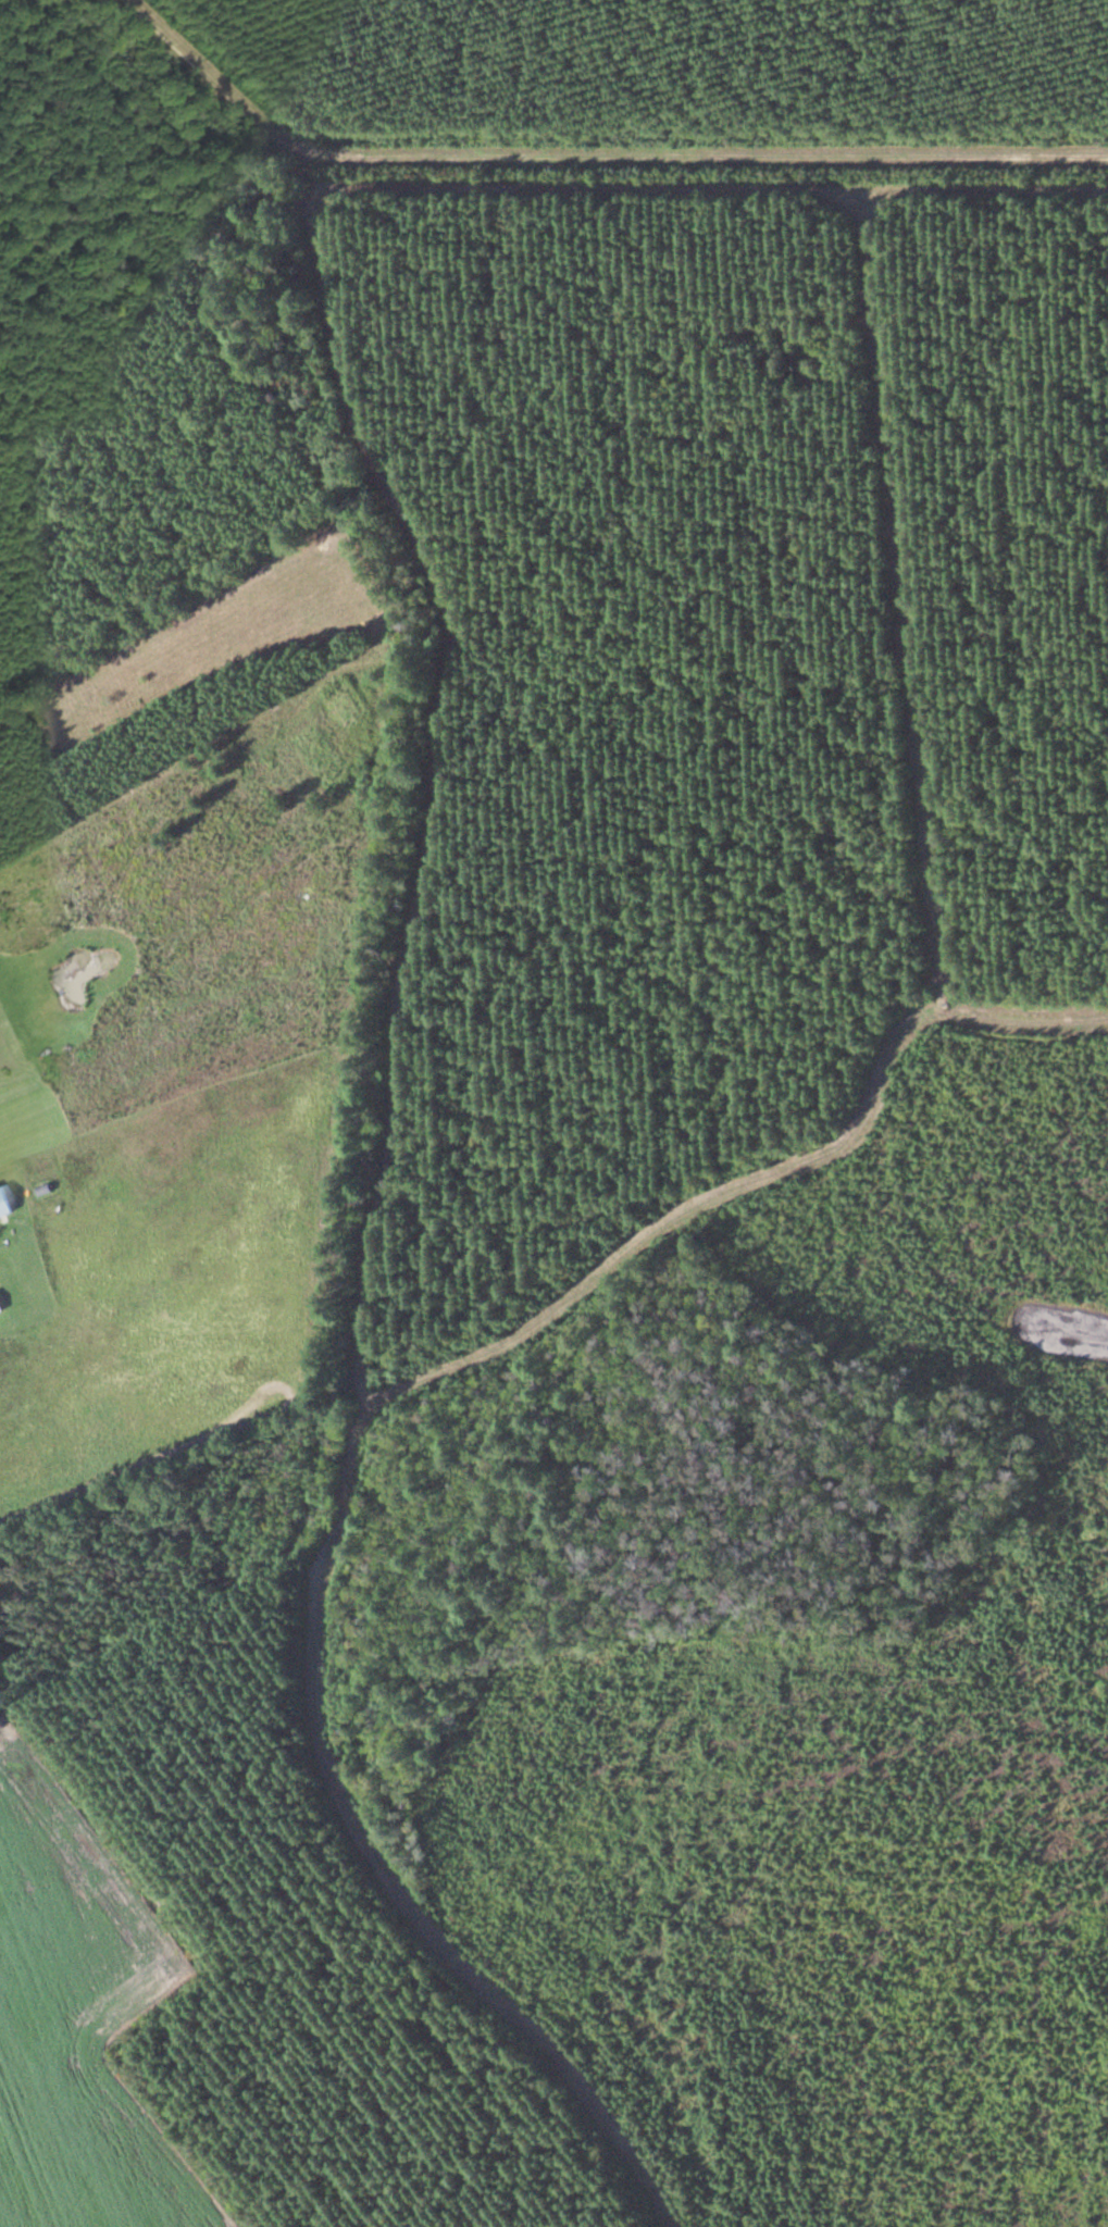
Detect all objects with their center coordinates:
road: (588, 152)
building: (4, 1205)
building: (1, 1309)

